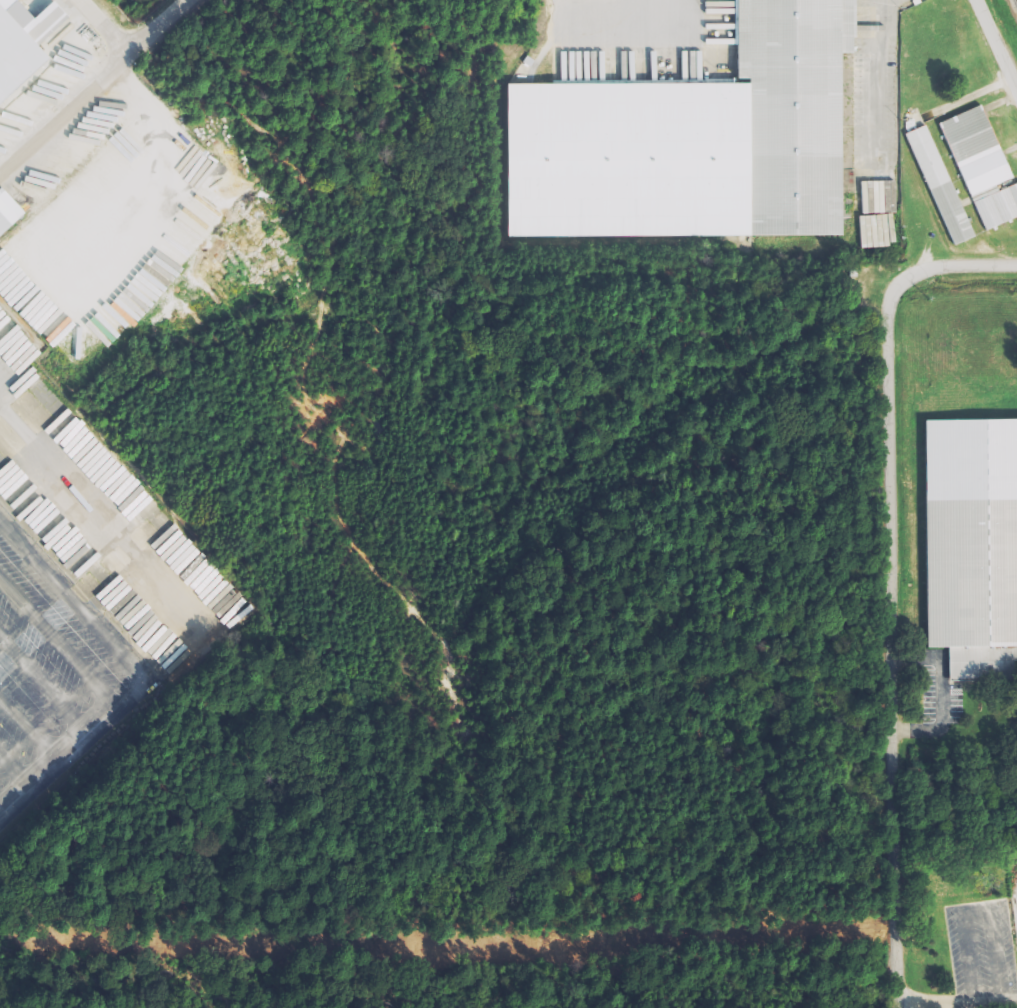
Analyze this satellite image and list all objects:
railway: (1014, 6)
building: (26, 42)
road: (995, 47)
building: (694, 141)
building: (972, 149)
building: (935, 185)
building: (1013, 196)
building: (8, 212)
building: (973, 546)
road: (889, 584)
road: (62, 643)
parking lot: (48, 667)
road: (151, 671)
road: (45, 688)
road: (31, 730)
road: (17, 772)
road: (2, 814)

